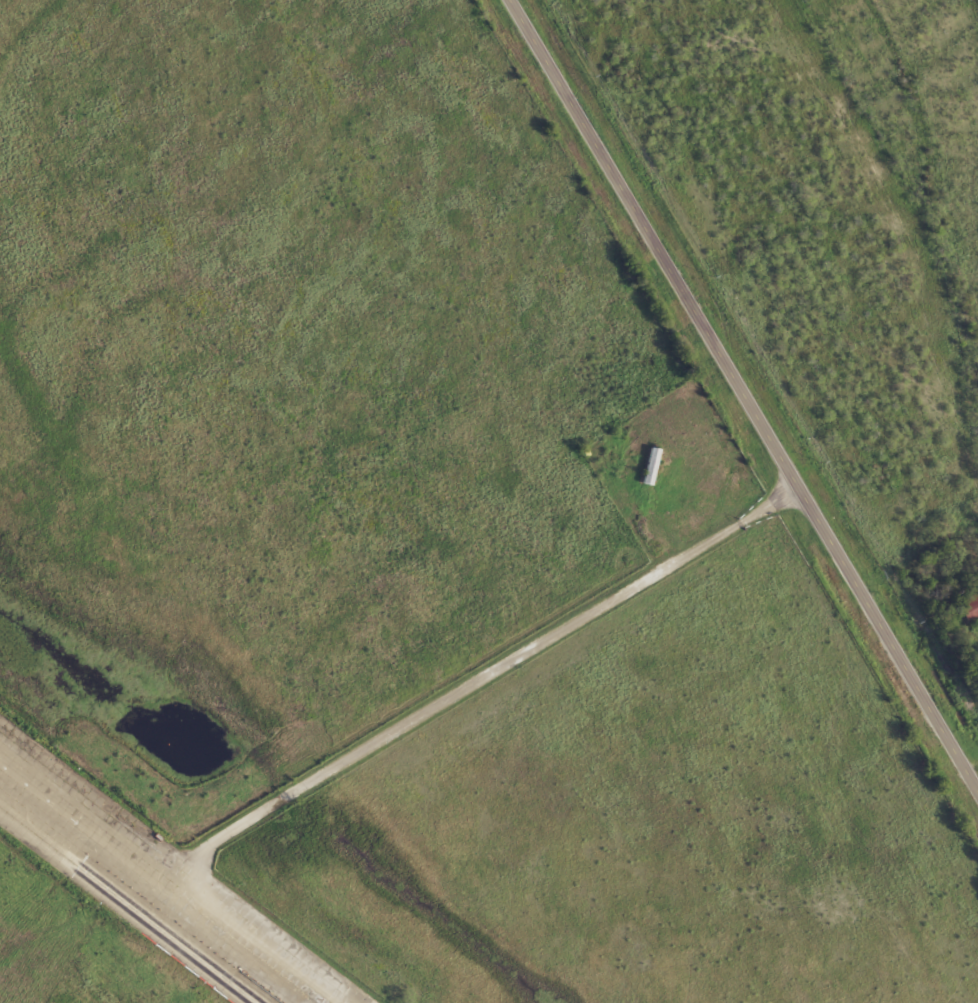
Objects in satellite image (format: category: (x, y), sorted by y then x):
road: (740, 397)
building: (971, 608)
road: (495, 667)
raceway: (167, 929)
raceway: (155, 932)

